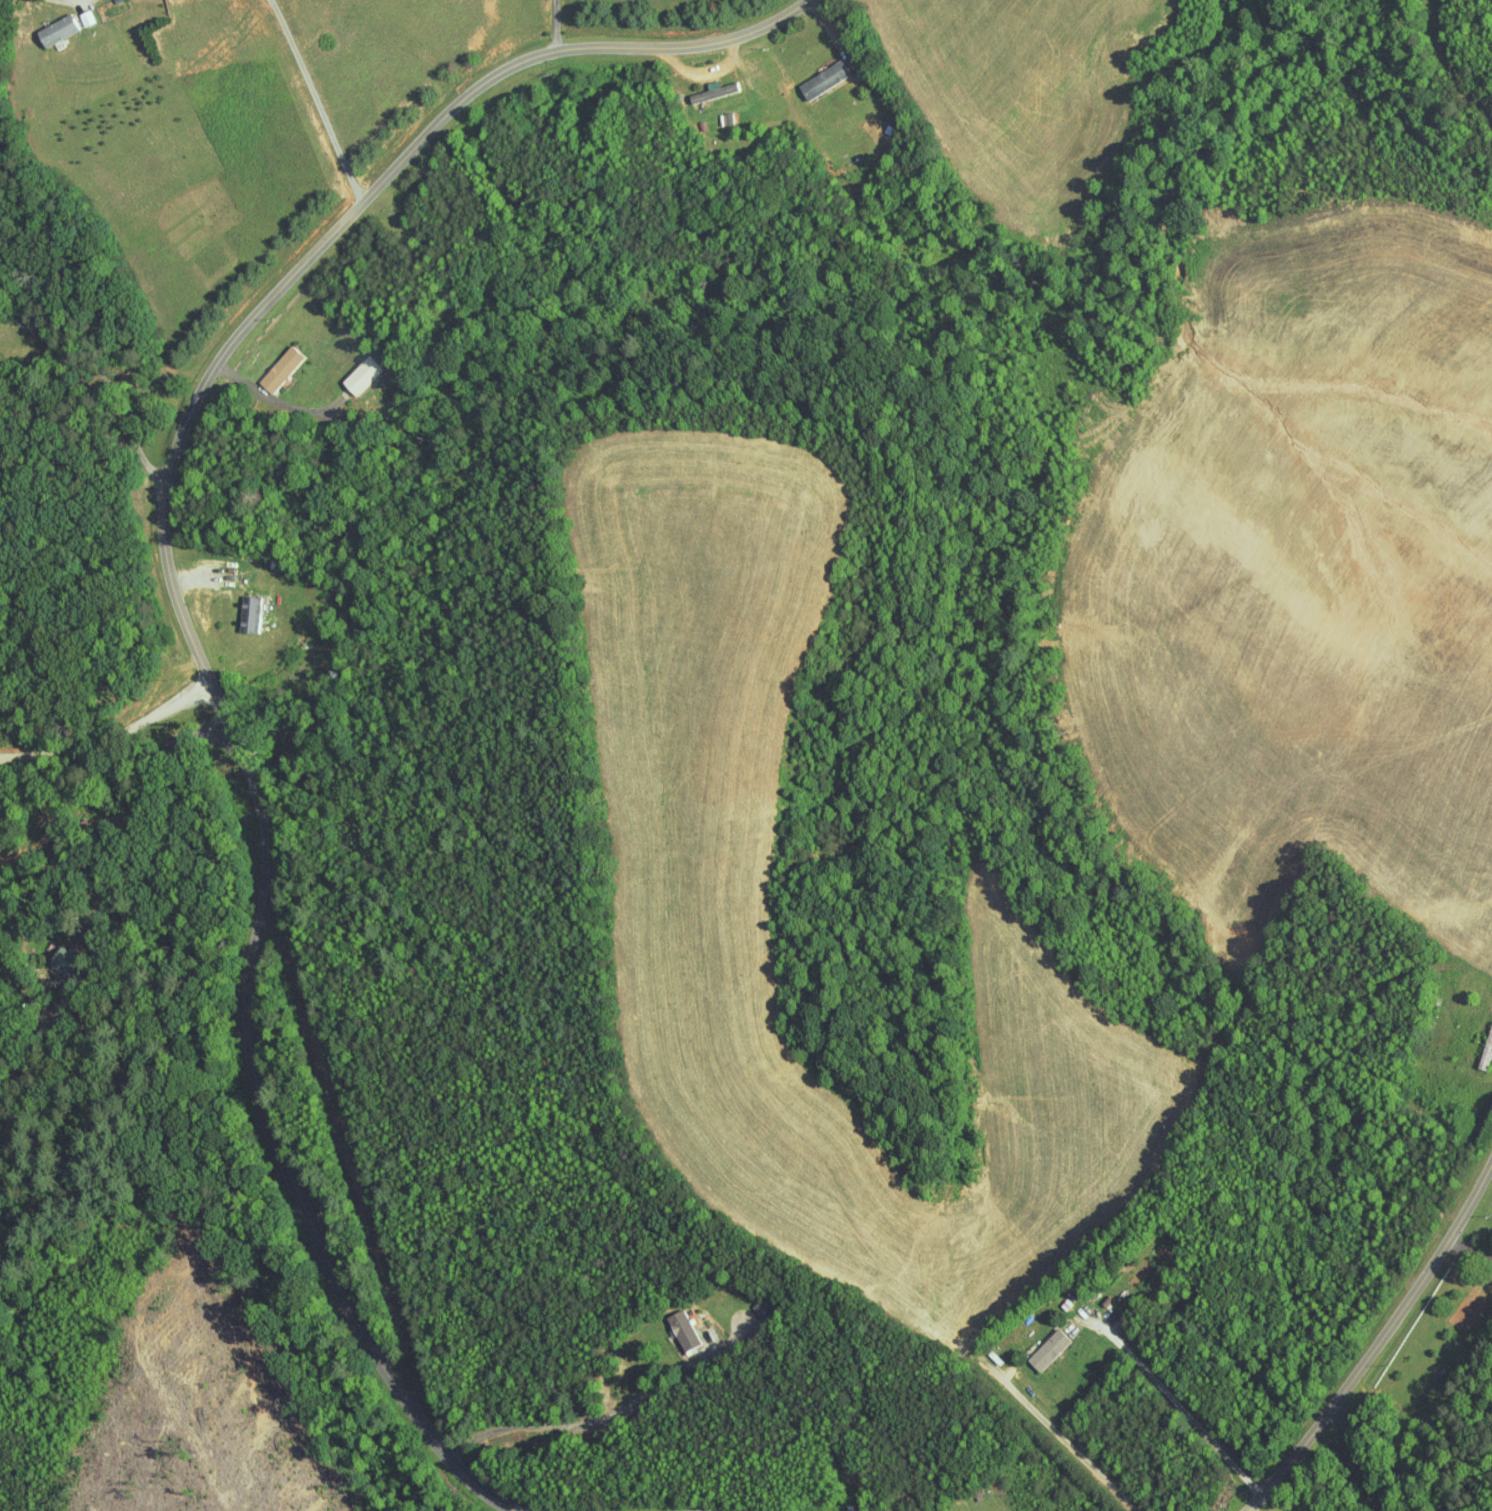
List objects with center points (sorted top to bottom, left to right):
building: (78, 12)
building: (51, 24)
road: (557, 24)
building: (817, 74)
road: (1443, 78)
building: (706, 85)
road: (309, 104)
building: (274, 363)
building: (353, 368)
road: (105, 375)
building: (244, 608)
road: (181, 612)
road: (1463, 1245)
building: (757, 1302)
building: (676, 1324)
road: (1371, 1328)
building: (1042, 1343)
road: (1177, 1404)
road: (572, 1425)
road: (1351, 1458)
building: (1278, 1509)

